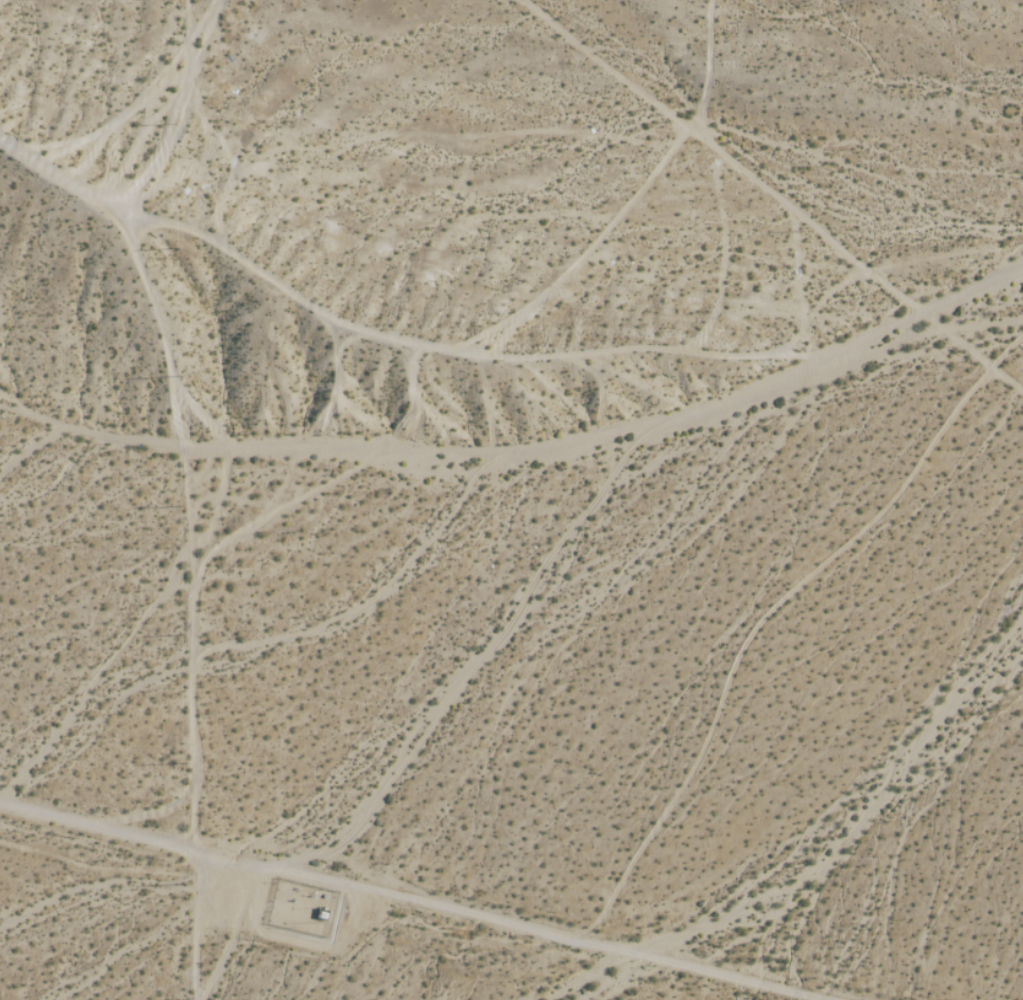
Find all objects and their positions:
road: (440, 896)

